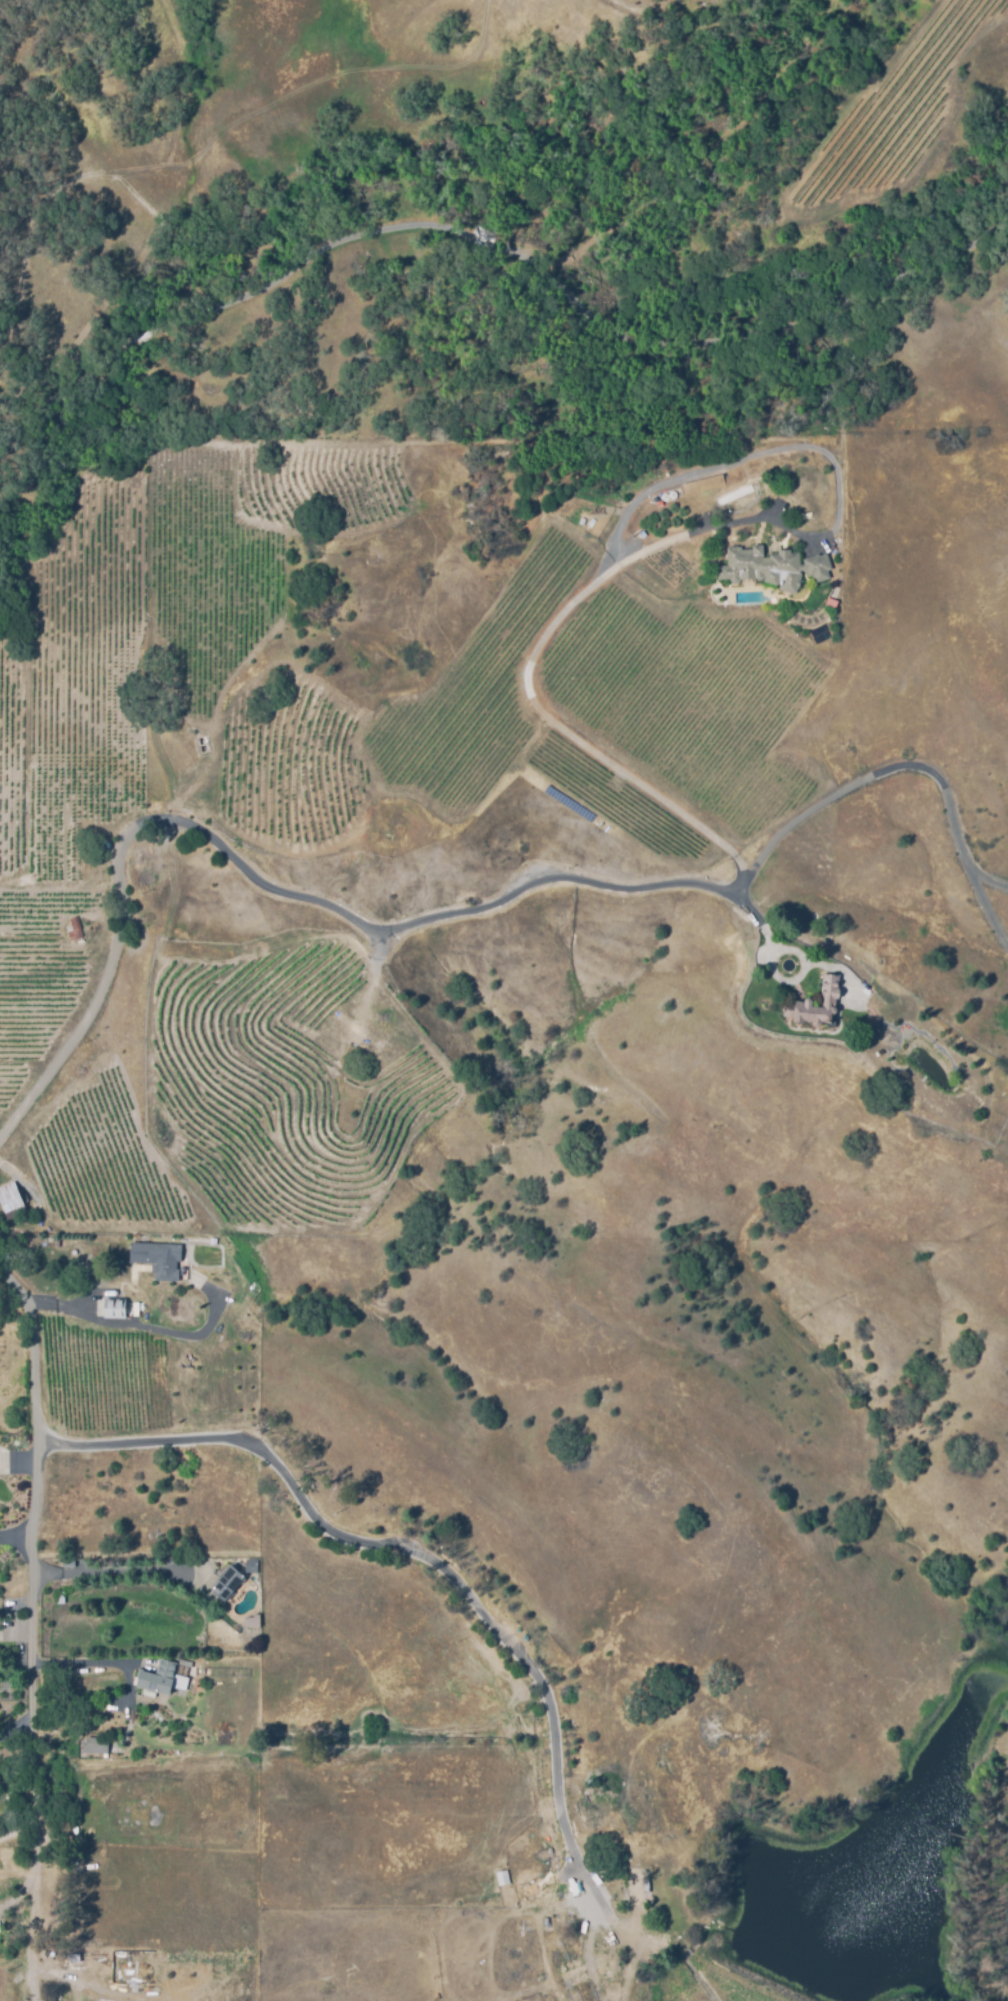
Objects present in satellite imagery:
road: (483, 198)
building: (704, 483)
building: (672, 493)
building: (665, 495)
road: (685, 534)
building: (773, 565)
building: (205, 743)
road: (870, 775)
road: (984, 878)
building: (24, 879)
road: (738, 884)
road: (299, 896)
road: (984, 904)
building: (73, 929)
building: (827, 1000)
building: (10, 1201)
building: (159, 1258)
building: (113, 1308)
road: (146, 1327)
road: (419, 1547)
building: (251, 1565)
road: (114, 1569)
building: (226, 1582)
road: (32, 1585)
building: (59, 1597)
road: (99, 1663)
building: (161, 1678)
building: (93, 1744)
building: (503, 1877)
building: (634, 1886)
building: (91, 1957)
building: (577, 1969)

